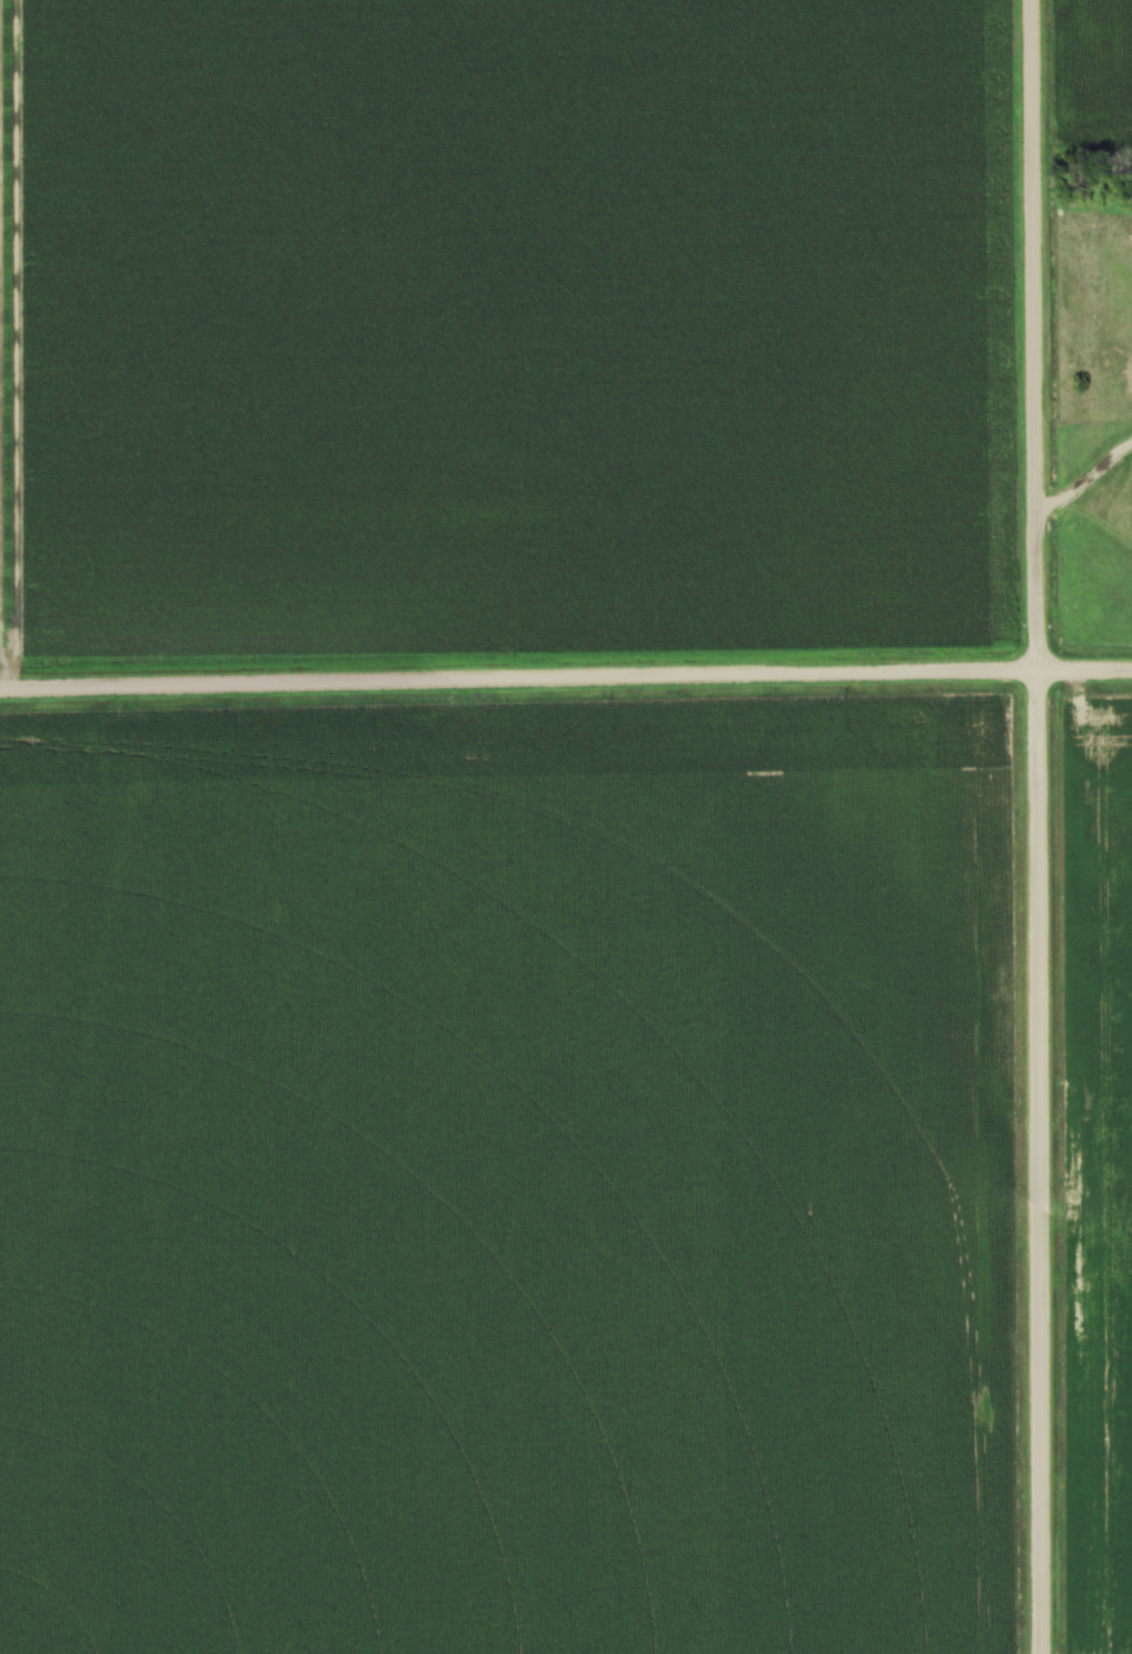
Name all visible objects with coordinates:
crop: (1095, 61)
crop: (500, 325)
road: (1084, 477)
road: (565, 675)
road: (1035, 826)
crop: (1095, 1168)
crop: (506, 1178)

